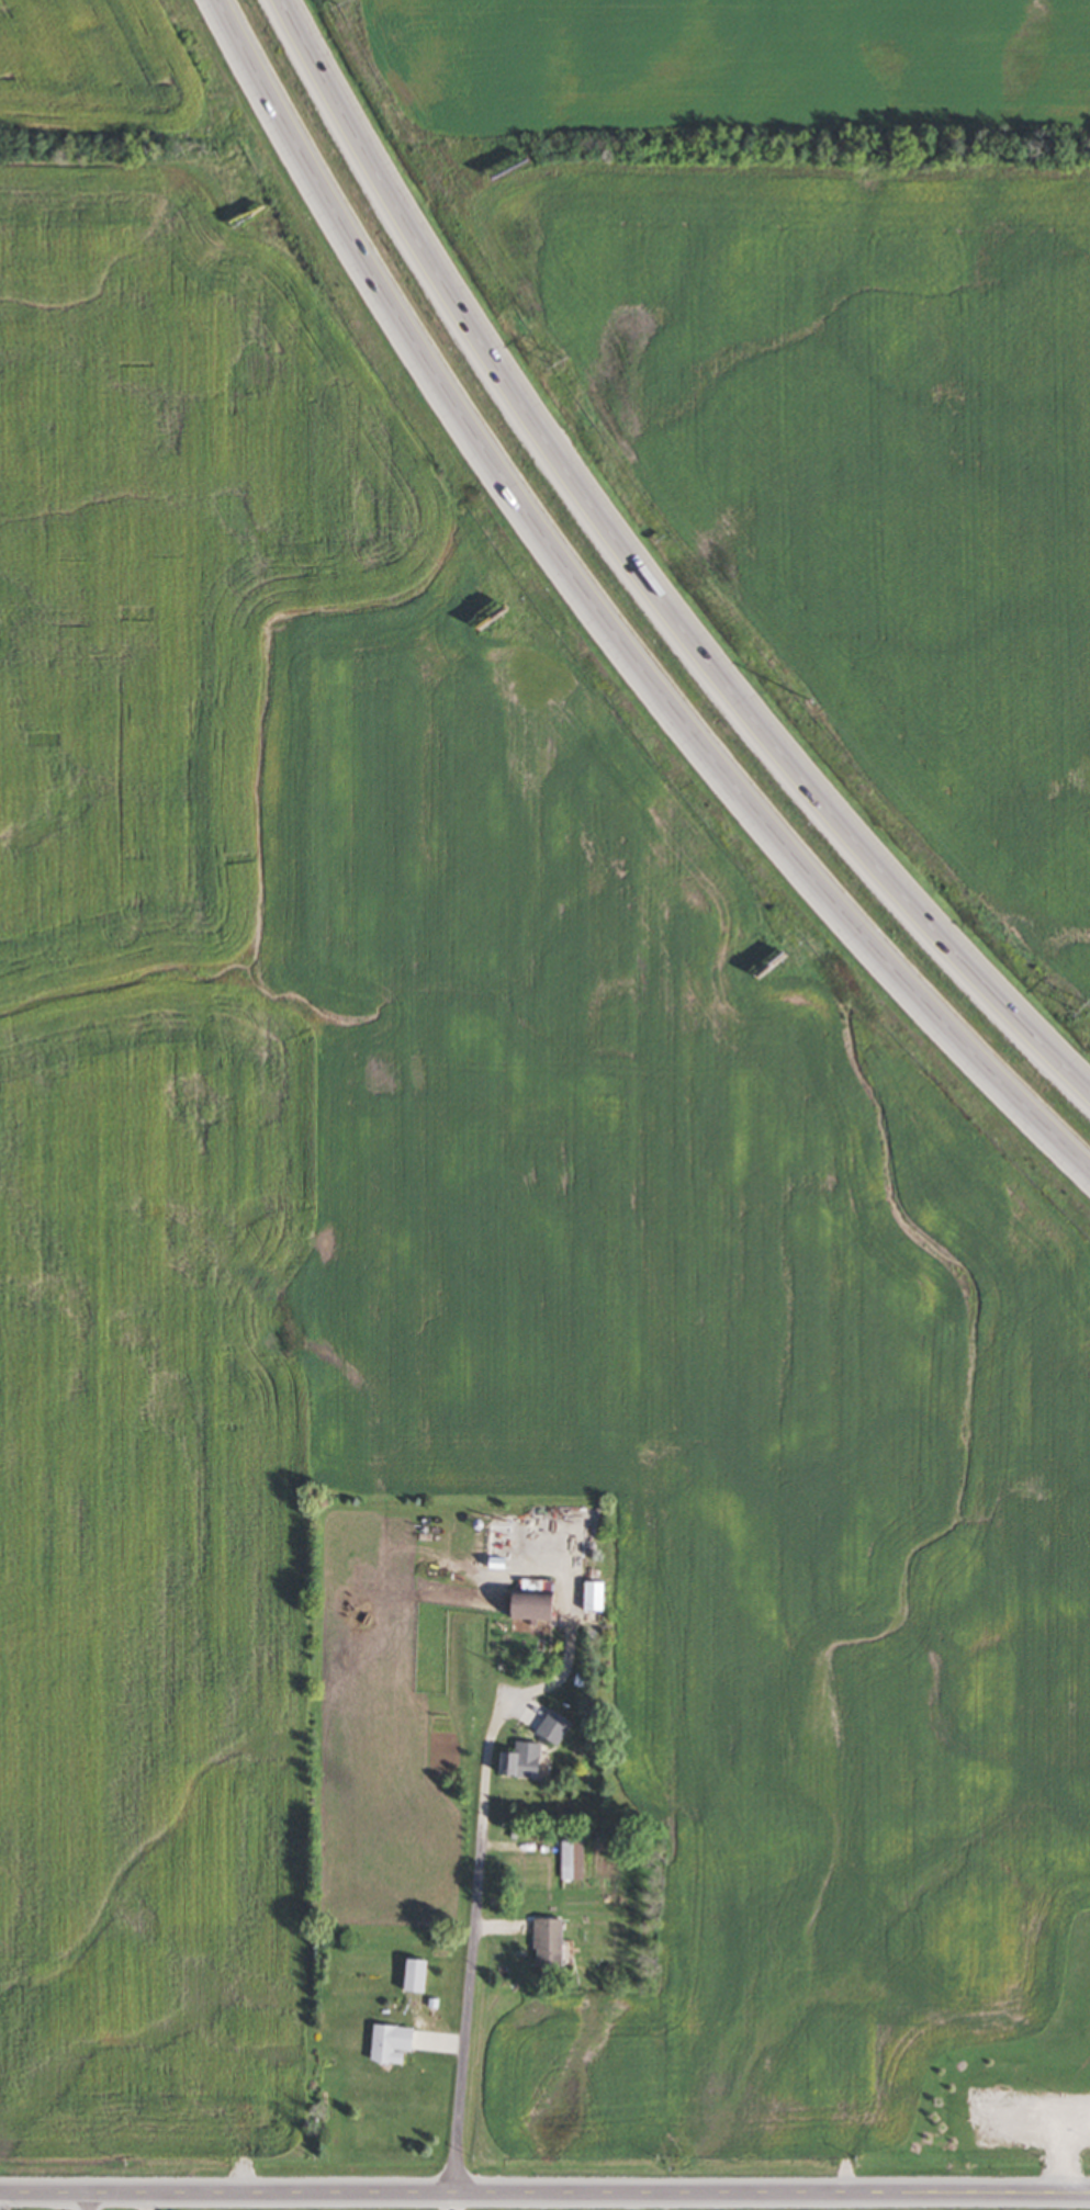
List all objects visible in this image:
power tower: (345, 0)
power tower: (558, 364)
road: (640, 576)
road: (604, 623)
power tower: (802, 699)
power tower: (1083, 1010)
building: (595, 1597)
building: (536, 1600)
road: (515, 1700)
building: (555, 1726)
building: (524, 1760)
building: (574, 1856)
building: (549, 1941)
building: (417, 1974)
road: (471, 2011)
building: (392, 2042)
road: (1058, 2143)
road: (544, 2190)
road: (86, 2199)

